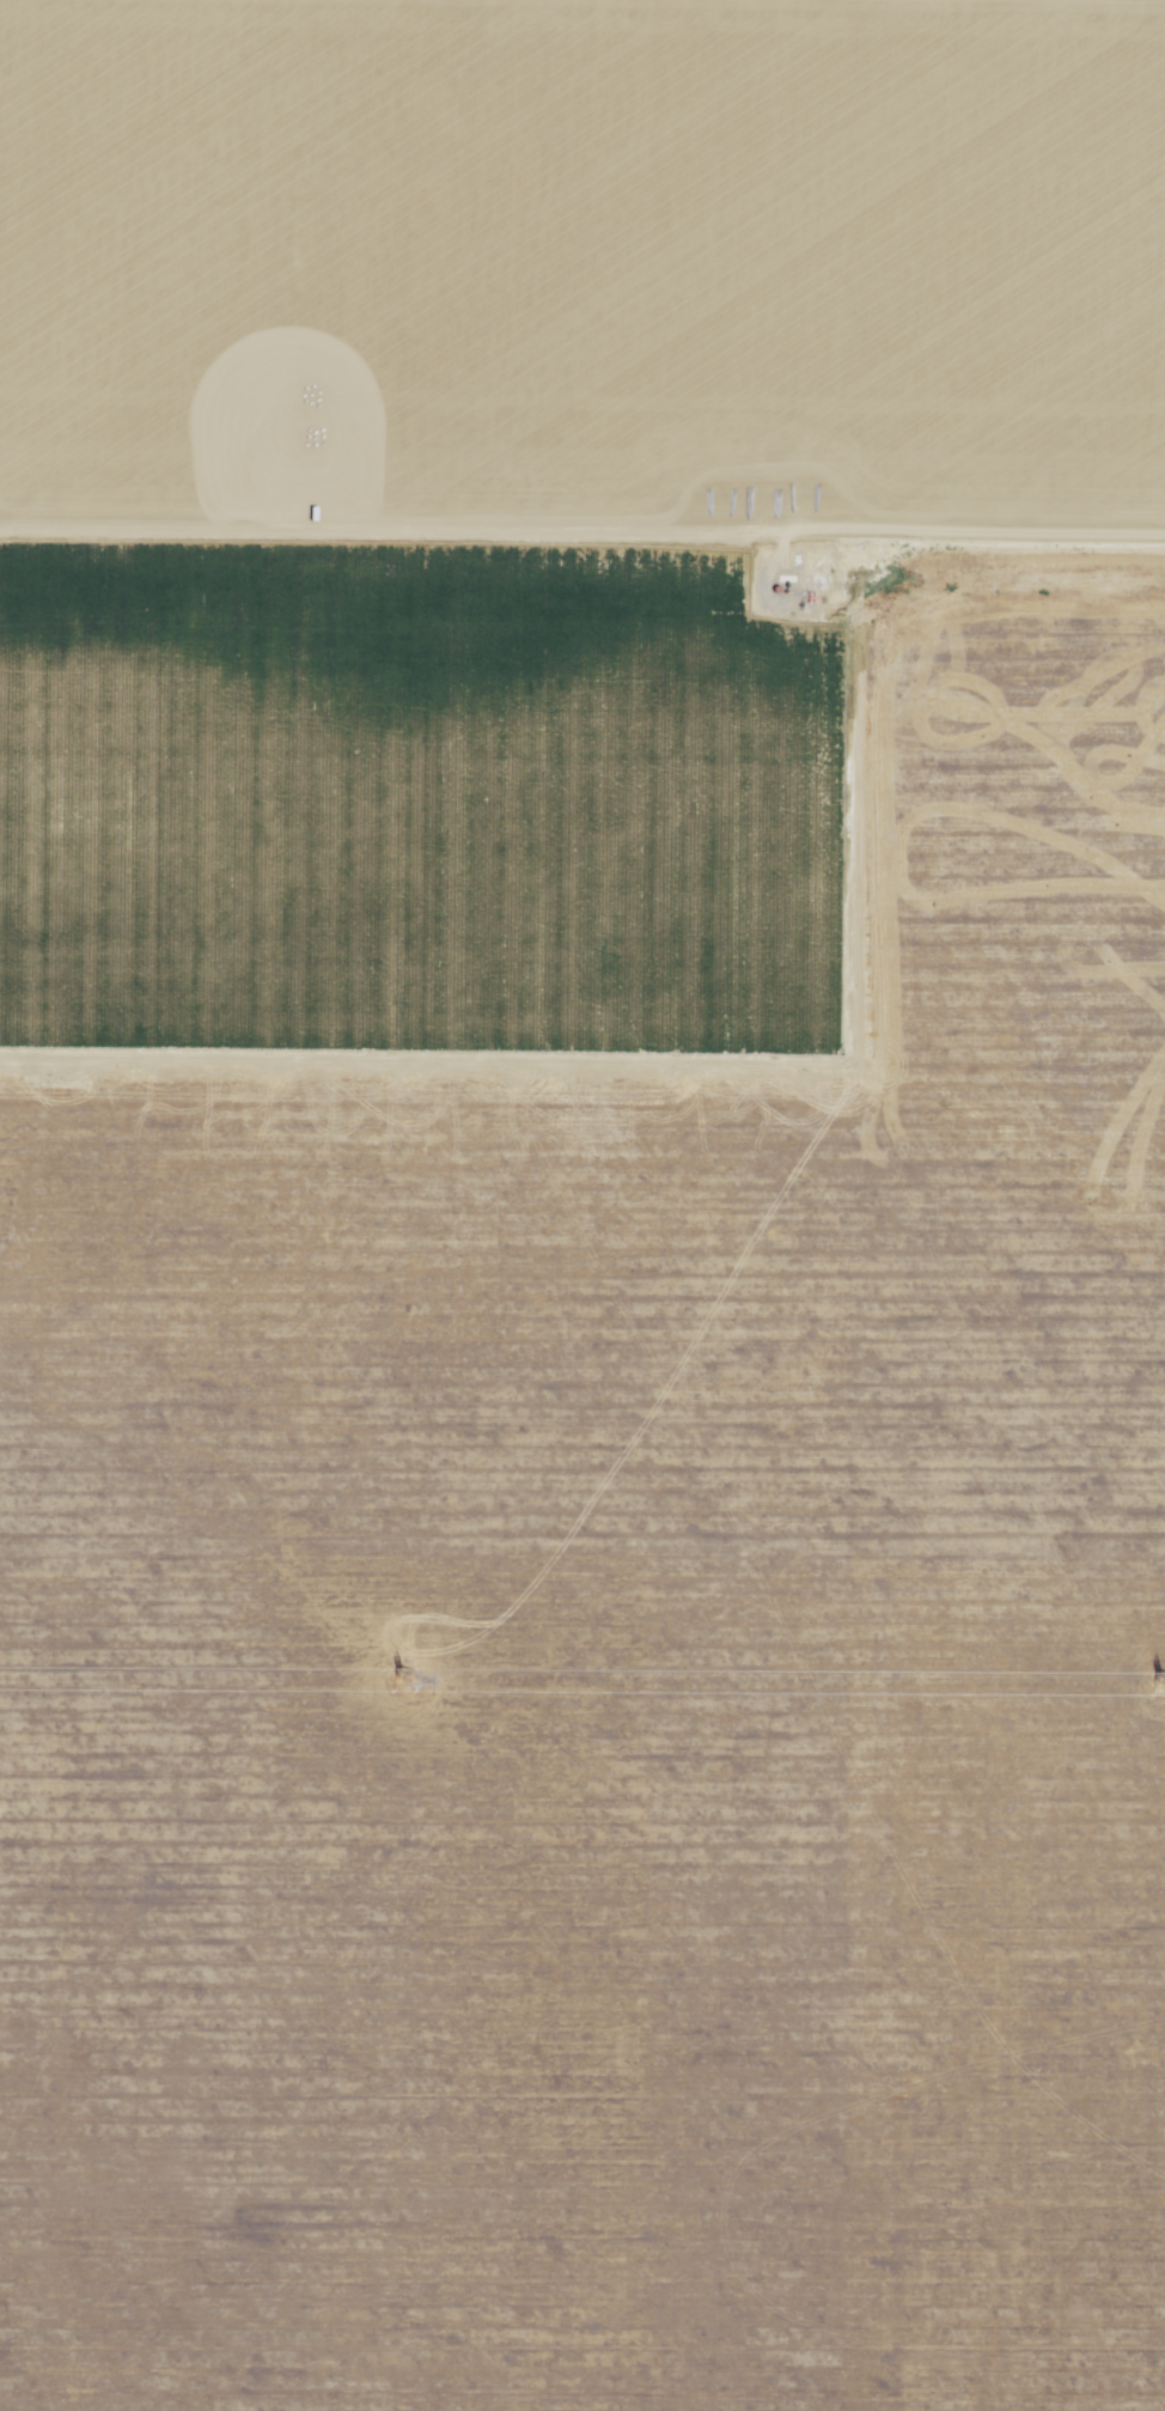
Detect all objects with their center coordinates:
road: (582, 536)
power tower: (399, 1680)
power tower: (1160, 1684)

